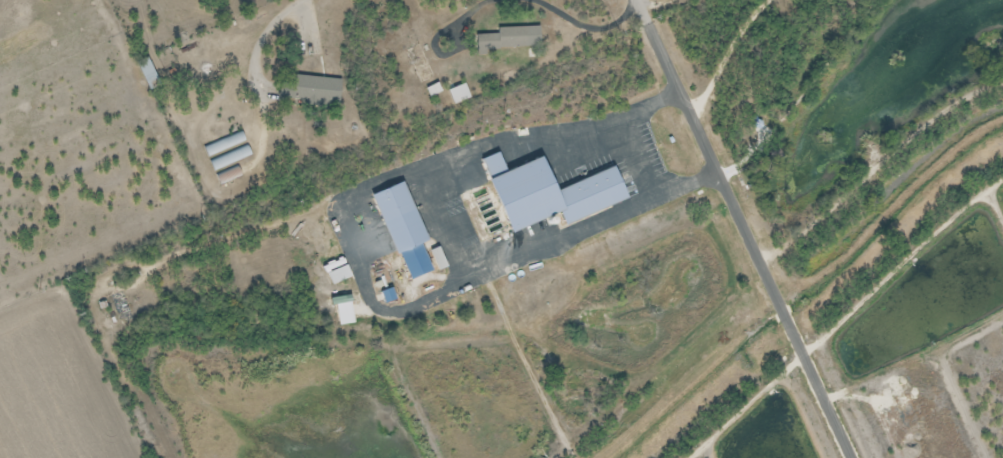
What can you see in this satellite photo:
building: (505, 40)
road: (673, 52)
road: (263, 70)
building: (148, 72)
building: (334, 90)
building: (226, 151)
building: (552, 193)
road: (414, 197)
building: (406, 230)
road: (778, 283)

